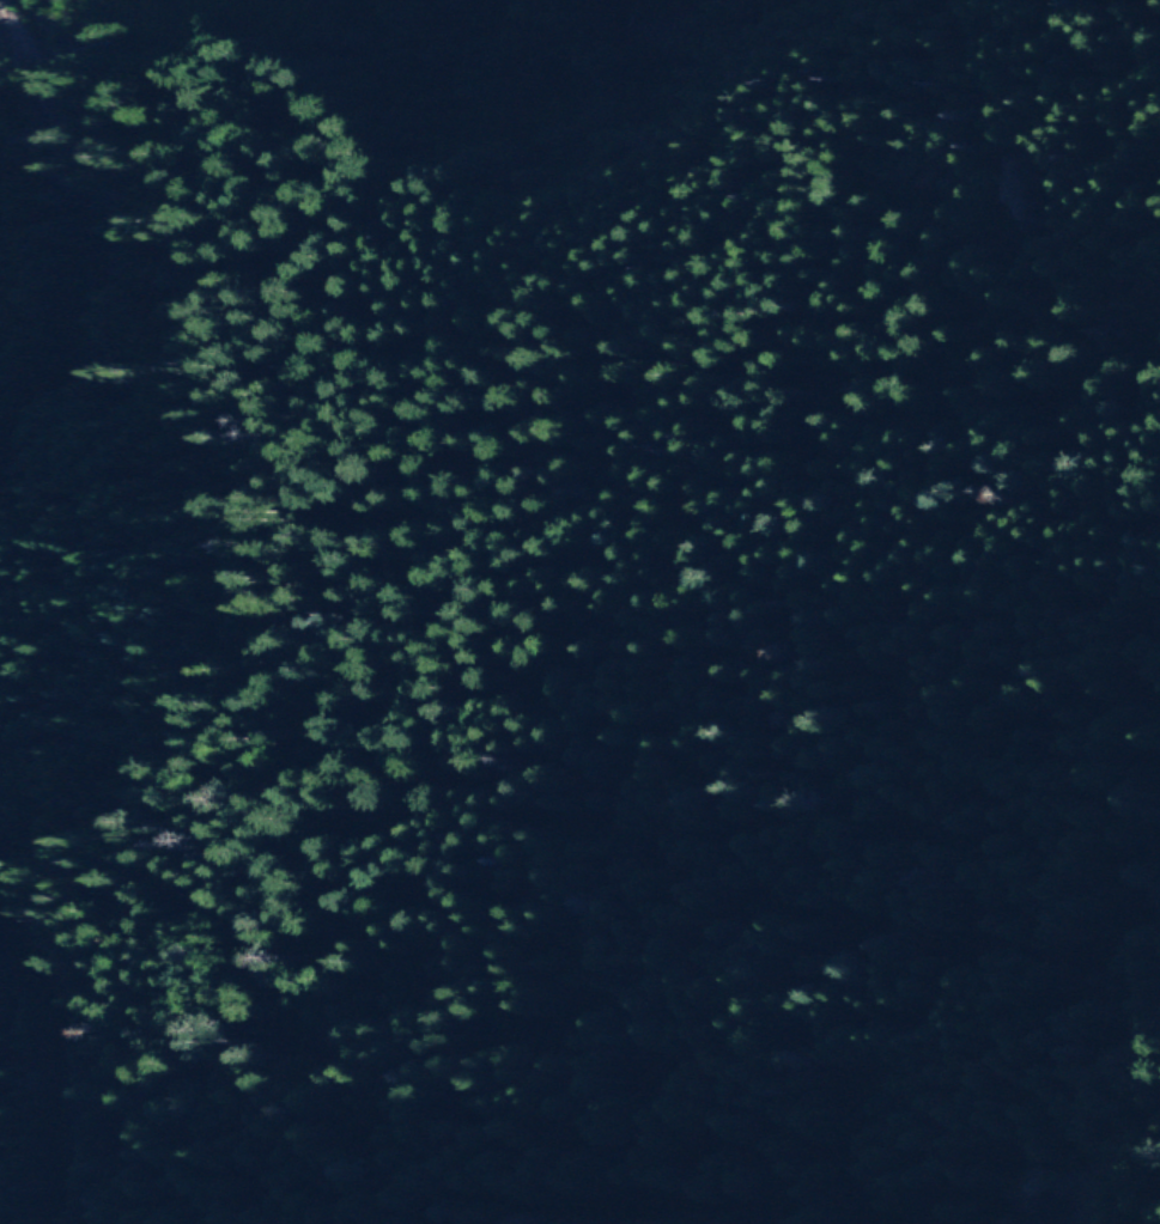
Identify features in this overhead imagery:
road: (54, 243)
road: (20, 1092)

